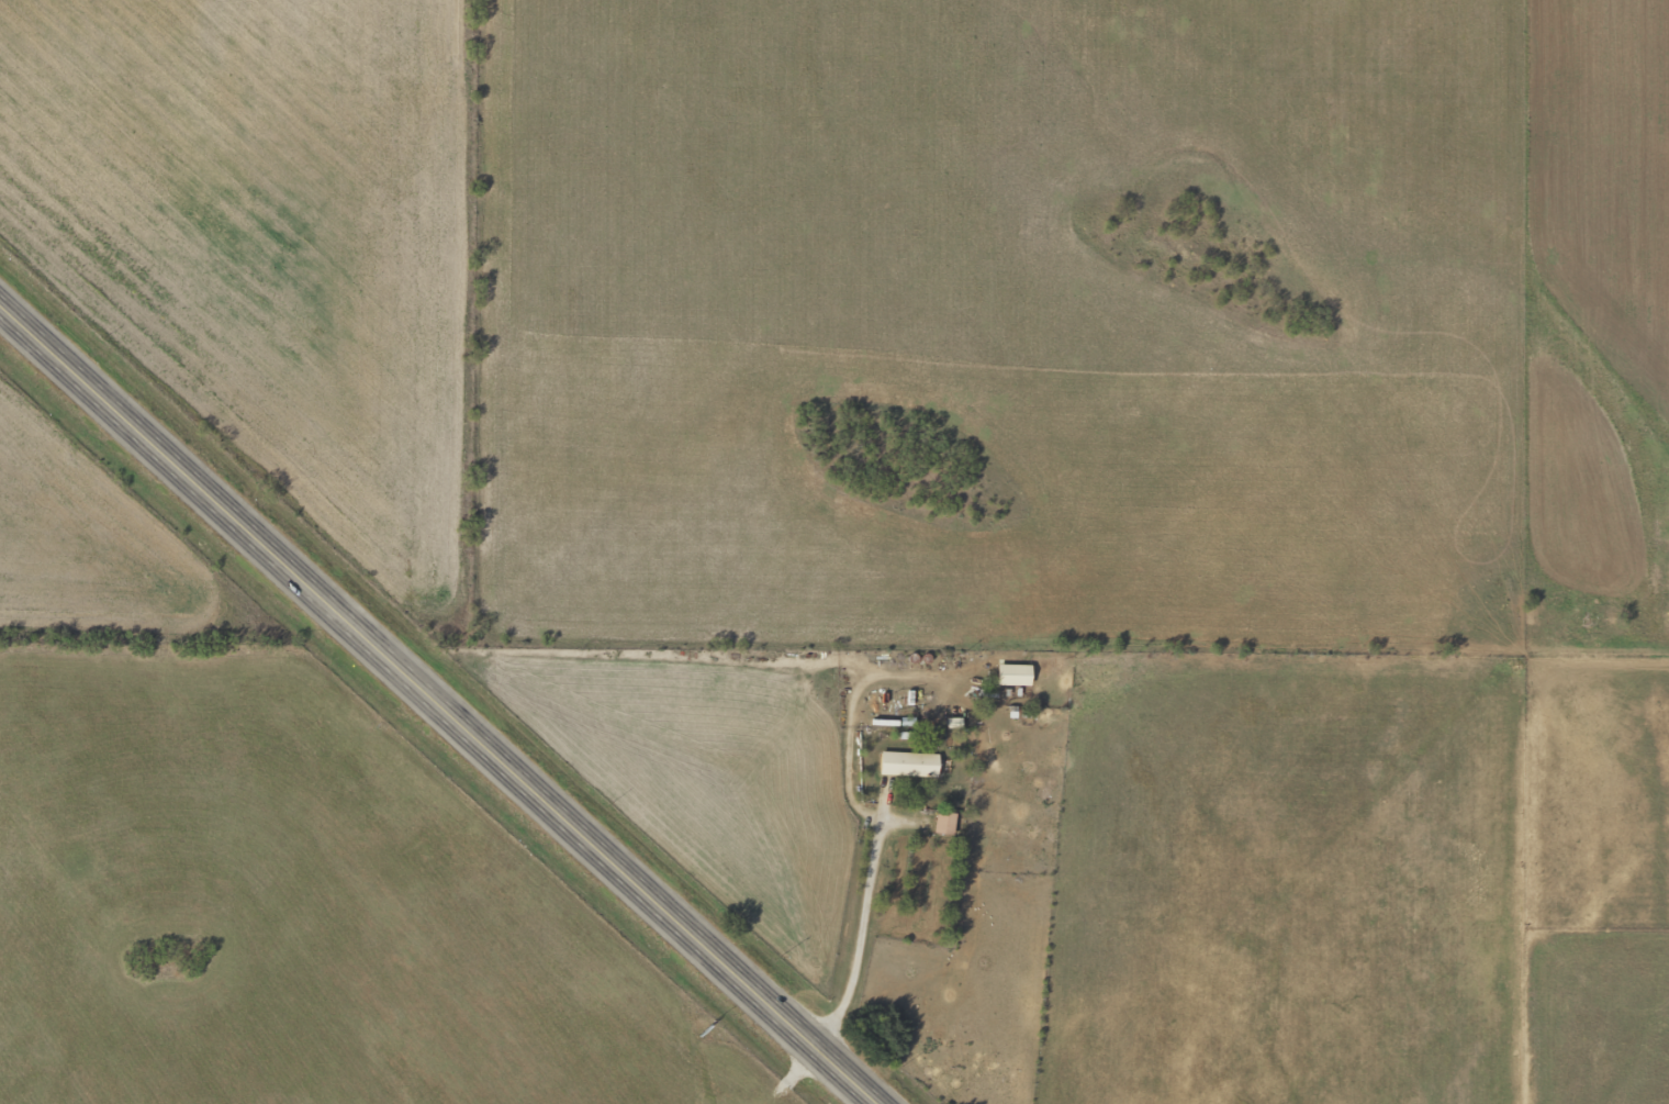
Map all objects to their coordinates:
road: (1492, 434)
building: (1008, 673)
road: (434, 704)
building: (904, 763)
building: (940, 822)

